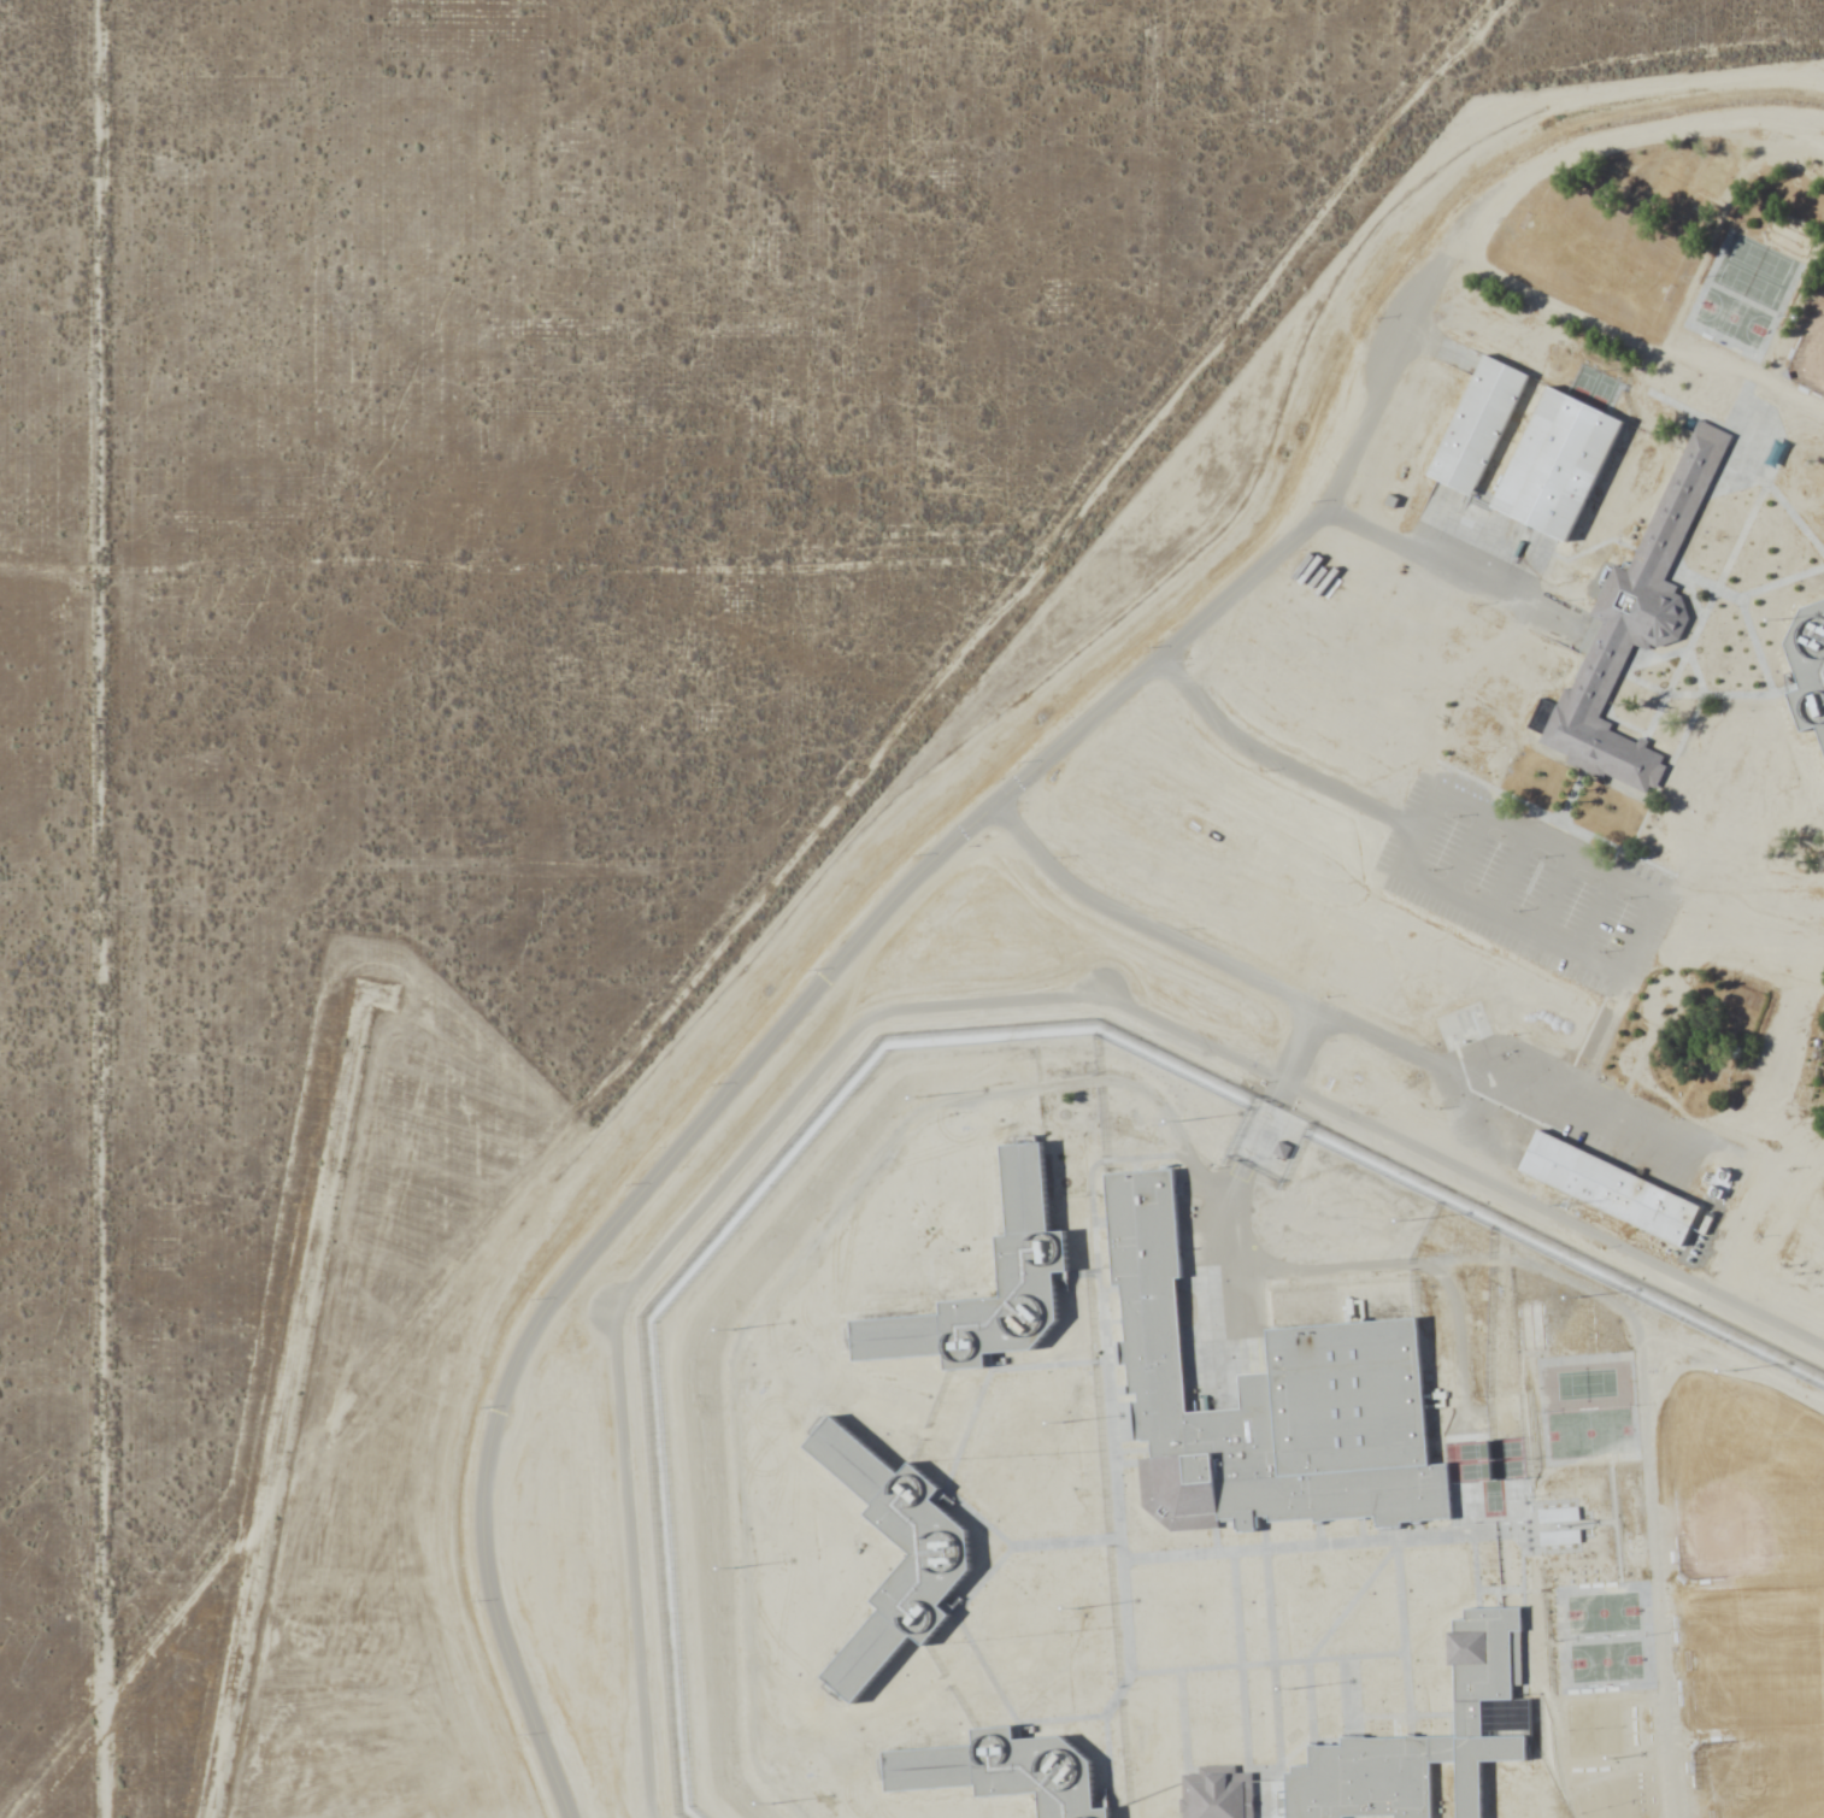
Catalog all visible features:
park: (1718, 167)
park: (1669, 177)
park: (1601, 254)
park: (1759, 258)
park: (1747, 284)
park: (1731, 316)
road: (1442, 348)
park: (1810, 352)
building: (1475, 425)
building: (1555, 464)
road: (1453, 567)
building: (1631, 623)
building: (1808, 667)
road: (1276, 763)
road: (1466, 852)
road: (1508, 872)
parking lot: (1525, 884)
road: (1552, 893)
road: (1594, 913)
road: (1619, 973)
road: (823, 978)
road: (936, 1004)
road: (1325, 1011)
road: (1593, 1049)
building: (1279, 1148)
road: (1238, 1178)
building: (1605, 1187)
building: (1031, 1253)
park: (1585, 1382)
building: (1266, 1400)
park: (1585, 1432)
park: (1502, 1448)
park: (1472, 1451)
park: (1504, 1467)
park: (1473, 1470)
park: (1742, 1478)
park: (1491, 1494)
building: (1560, 1516)
building: (1561, 1538)
building: (936, 1560)
park: (1601, 1611)
park: (1753, 1657)
park: (1606, 1660)
park: (1608, 1726)
park: (1581, 1729)
building: (1425, 1736)
building: (1005, 1767)
park: (1760, 1781)
building: (1214, 1793)
park: (1618, 1795)
park: (1590, 1800)

